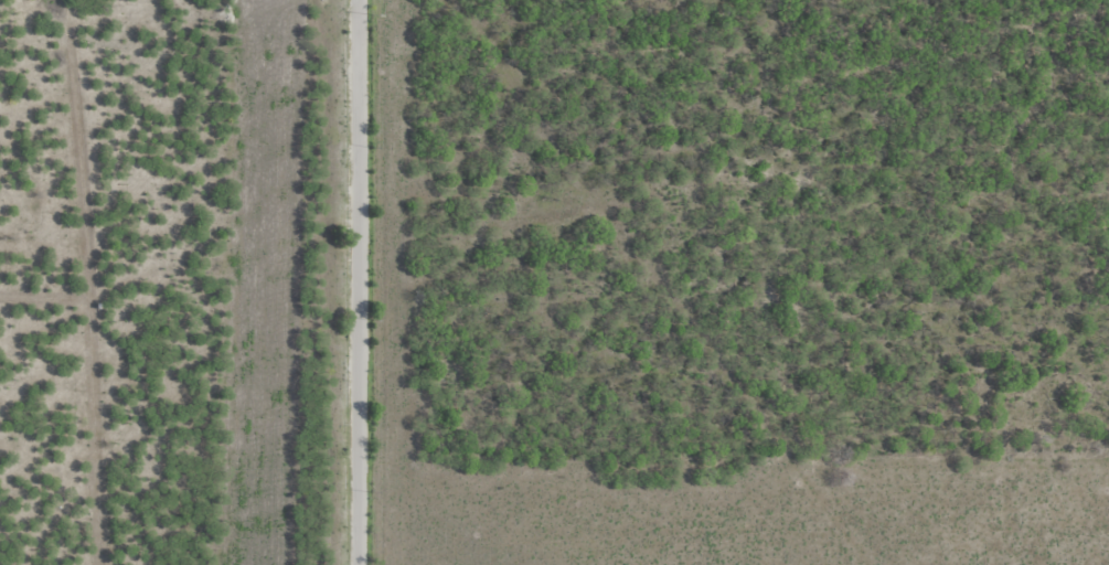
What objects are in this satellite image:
road: (354, 282)

